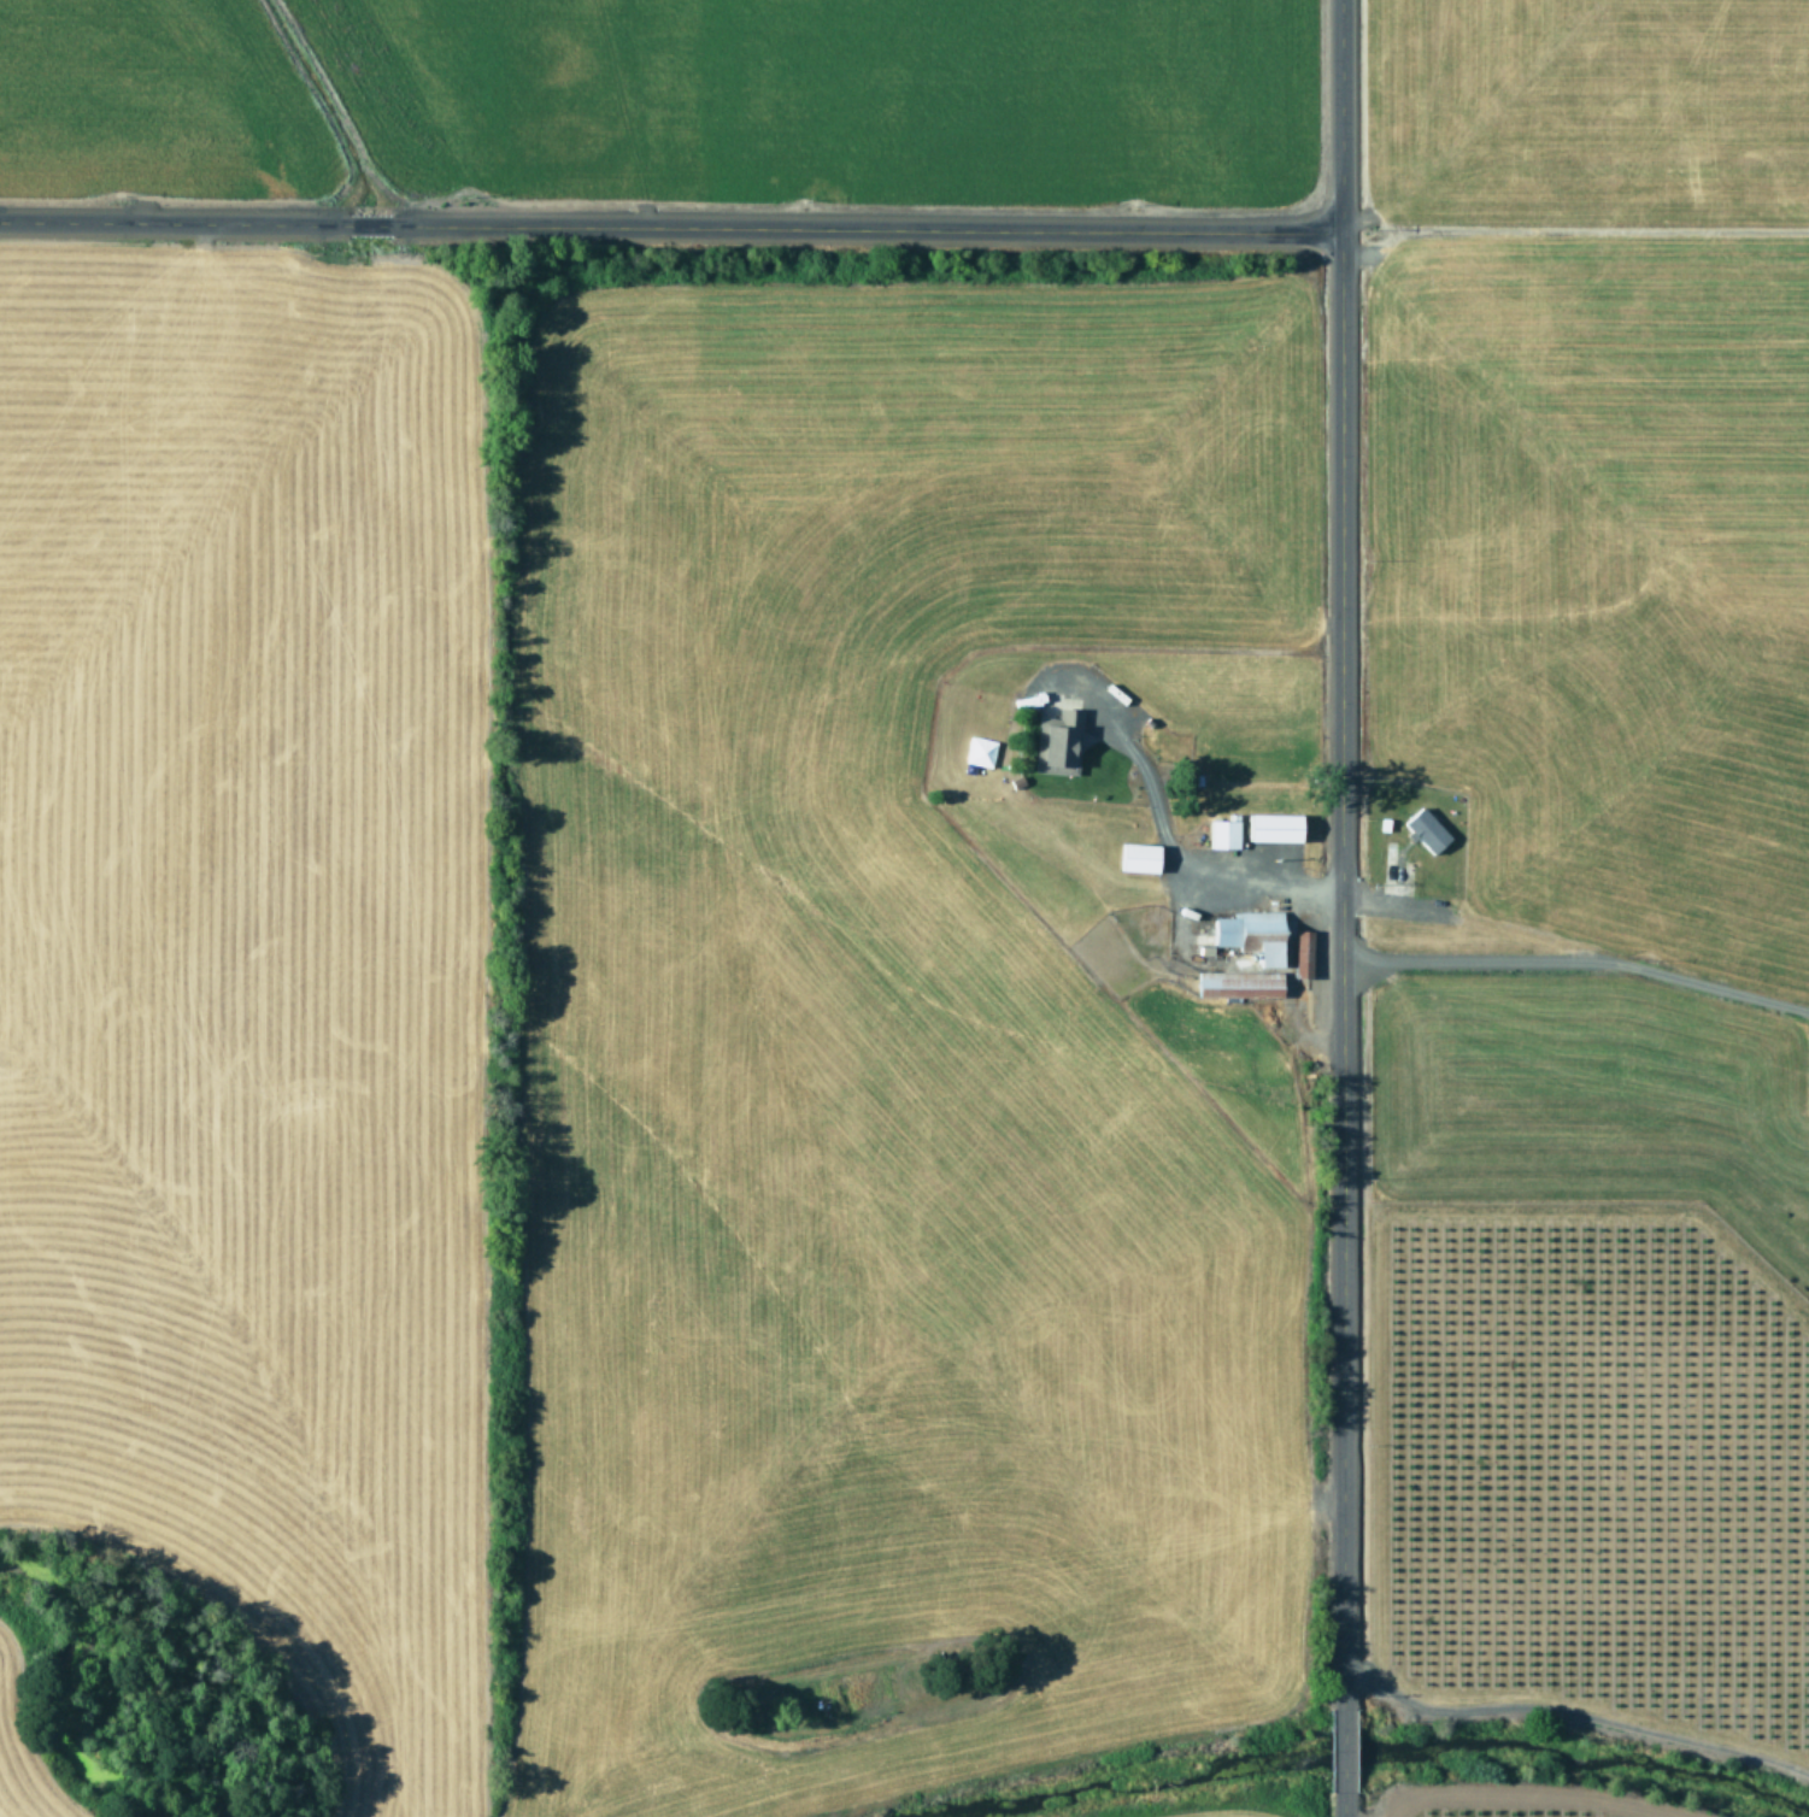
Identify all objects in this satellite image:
crop: (662, 95)
road: (669, 229)
crop: (1604, 504)
building: (1057, 742)
building: (1269, 827)
building: (1423, 830)
building: (1223, 834)
road: (1164, 835)
road: (1340, 853)
building: (1140, 857)
building: (1253, 933)
building: (1303, 953)
road: (1575, 960)
building: (1239, 983)
road: (1343, 1748)
road: (1343, 1804)

